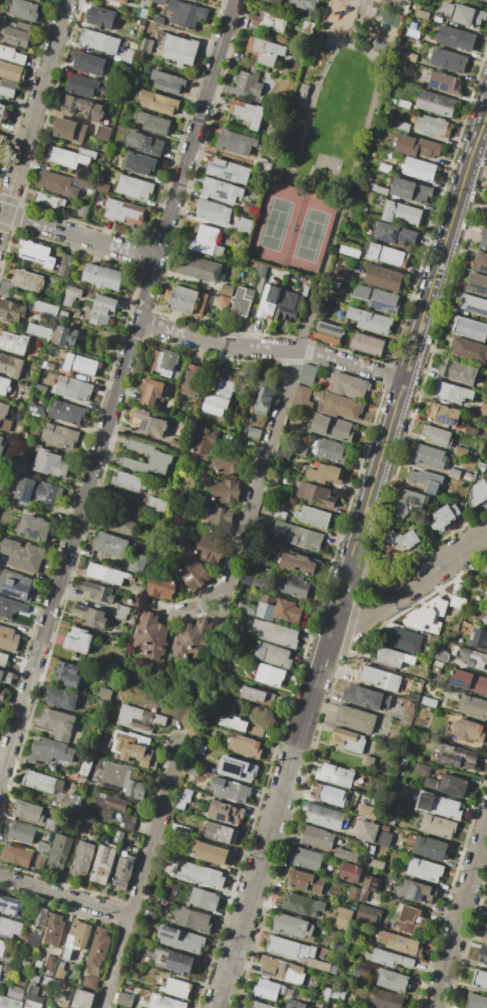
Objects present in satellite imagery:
building: (36, 0)
building: (209, 0)
building: (483, 0)
building: (121, 1)
building: (160, 1)
building: (273, 2)
building: (304, 4)
building: (23, 10)
building: (141, 12)
building: (186, 14)
building: (422, 14)
building: (464, 14)
building: (99, 17)
building: (158, 20)
building: (270, 21)
road: (359, 23)
building: (307, 27)
building: (16, 32)
building: (455, 38)
building: (100, 41)
road: (331, 41)
building: (145, 45)
building: (121, 48)
building: (180, 50)
building: (265, 51)
building: (129, 54)
building: (11, 55)
building: (448, 60)
building: (125, 61)
building: (88, 63)
building: (11, 71)
building: (423, 72)
building: (167, 82)
building: (247, 83)
building: (445, 83)
building: (82, 86)
building: (7, 87)
building: (303, 95)
building: (159, 103)
building: (436, 103)
building: (404, 104)
building: (81, 108)
road: (485, 111)
building: (247, 113)
building: (3, 114)
road: (34, 115)
building: (154, 124)
building: (399, 126)
building: (433, 126)
building: (69, 130)
building: (103, 133)
road: (477, 134)
road: (301, 135)
park: (326, 136)
building: (2, 138)
building: (236, 143)
building: (146, 144)
building: (418, 147)
building: (87, 153)
building: (64, 157)
building: (138, 162)
building: (106, 164)
rooftop solar panel: (218, 164)
building: (262, 164)
park: (327, 164)
building: (385, 168)
building: (418, 169)
building: (228, 171)
road: (351, 172)
rooftop solar panel: (228, 173)
building: (57, 185)
building: (102, 187)
building: (134, 187)
building: (377, 189)
building: (221, 190)
building: (410, 190)
rooftop solar panel: (222, 192)
building: (48, 201)
building: (250, 208)
building: (83, 210)
building: (363, 210)
building: (124, 212)
building: (213, 212)
building: (351, 213)
building: (400, 213)
building: (486, 222)
building: (233, 223)
park: (276, 223)
building: (244, 226)
park: (311, 234)
building: (395, 234)
road: (77, 236)
building: (483, 240)
building: (206, 241)
building: (34, 251)
building: (350, 251)
building: (387, 254)
building: (480, 262)
building: (49, 263)
building: (66, 264)
building: (197, 267)
rooftop solar panel: (486, 269)
building: (261, 270)
building: (340, 271)
building: (103, 277)
building: (384, 278)
building: (27, 280)
rooftop solar panel: (477, 283)
building: (259, 284)
building: (477, 284)
building: (4, 288)
building: (226, 290)
building: (71, 295)
building: (377, 299)
building: (187, 300)
building: (242, 301)
building: (268, 301)
building: (223, 302)
building: (289, 304)
building: (474, 304)
building: (46, 308)
building: (12, 310)
building: (103, 311)
building: (64, 313)
building: (78, 314)
road: (308, 318)
building: (370, 321)
road: (136, 323)
building: (470, 329)
building: (39, 331)
building: (328, 332)
building: (65, 336)
building: (14, 343)
building: (368, 344)
road: (270, 349)
building: (470, 350)
building: (62, 355)
building: (164, 362)
building: (80, 365)
building: (11, 366)
building: (47, 366)
building: (458, 371)
building: (307, 374)
building: (191, 379)
building: (348, 385)
building: (5, 386)
building: (41, 389)
building: (73, 389)
road: (398, 391)
building: (221, 392)
building: (154, 393)
building: (318, 393)
building: (453, 393)
building: (265, 397)
building: (302, 397)
building: (340, 406)
building: (212, 409)
building: (483, 409)
building: (36, 411)
building: (66, 412)
building: (261, 413)
building: (443, 414)
building: (4, 418)
rooftop solar panel: (446, 419)
building: (151, 423)
building: (337, 429)
building: (471, 431)
building: (254, 433)
building: (437, 435)
building: (59, 436)
building: (204, 442)
building: (1, 446)
building: (299, 450)
building: (331, 451)
building: (461, 452)
building: (283, 455)
building: (159, 457)
building: (429, 457)
building: (50, 464)
building: (228, 464)
building: (482, 467)
building: (324, 474)
building: (454, 474)
building: (467, 477)
building: (486, 477)
road: (260, 478)
building: (426, 480)
building: (127, 482)
building: (0, 485)
building: (24, 489)
rooftop solar panel: (26, 492)
building: (225, 492)
building: (311, 492)
building: (47, 493)
building: (478, 494)
building: (412, 503)
building: (156, 504)
building: (461, 504)
building: (266, 510)
building: (280, 515)
building: (313, 517)
building: (444, 517)
building: (220, 521)
building: (118, 525)
building: (33, 528)
rooftop solar panel: (23, 534)
rooftop solar panel: (36, 535)
building: (298, 535)
building: (402, 540)
building: (110, 545)
building: (277, 547)
building: (211, 550)
building: (22, 556)
road: (447, 559)
building: (137, 563)
building: (297, 564)
building: (264, 568)
building: (485, 569)
building: (193, 574)
building: (108, 575)
road: (375, 580)
building: (246, 581)
building: (259, 584)
building: (15, 585)
building: (295, 586)
building: (160, 587)
building: (455, 588)
building: (135, 590)
building: (96, 592)
building: (456, 602)
building: (10, 607)
road: (193, 607)
building: (245, 609)
building: (266, 611)
building: (287, 611)
building: (121, 613)
building: (425, 615)
building: (91, 616)
road: (373, 616)
building: (480, 616)
building: (236, 629)
building: (275, 633)
building: (151, 636)
building: (479, 638)
building: (8, 639)
building: (192, 639)
building: (78, 640)
building: (402, 640)
building: (273, 655)
building: (442, 655)
building: (392, 657)
building: (3, 659)
building: (76, 659)
building: (469, 659)
building: (163, 668)
building: (436, 668)
building: (67, 674)
building: (269, 675)
building: (5, 677)
building: (380, 678)
building: (433, 680)
building: (469, 681)
building: (2, 694)
building: (103, 694)
building: (258, 696)
building: (413, 696)
building: (61, 698)
building: (366, 698)
building: (429, 701)
building: (410, 705)
building: (103, 706)
building: (473, 707)
road: (19, 709)
building: (80, 714)
building: (139, 719)
building: (356, 719)
building: (58, 723)
building: (233, 723)
building: (415, 724)
building: (400, 726)
building: (258, 731)
building: (468, 731)
building: (347, 741)
building: (245, 746)
building: (200, 748)
building: (133, 749)
building: (45, 750)
building: (64, 753)
building: (456, 757)
building: (194, 760)
building: (367, 760)
building: (404, 761)
building: (239, 769)
building: (422, 769)
building: (82, 770)
building: (193, 771)
building: (100, 773)
building: (335, 775)
building: (124, 779)
building: (43, 783)
building: (431, 784)
building: (102, 785)
building: (453, 786)
building: (109, 787)
building: (229, 790)
building: (329, 795)
building: (184, 798)
building: (70, 802)
building: (116, 804)
building: (440, 806)
building: (28, 811)
building: (226, 813)
building: (365, 813)
building: (324, 817)
road: (272, 820)
building: (389, 820)
building: (23, 821)
building: (127, 822)
building: (50, 825)
building: (438, 826)
building: (82, 827)
building: (385, 827)
building: (180, 829)
building: (367, 831)
building: (21, 833)
building: (220, 833)
building: (118, 836)
building: (318, 838)
building: (384, 839)
building: (426, 846)
building: (43, 848)
building: (369, 849)
building: (59, 853)
building: (210, 853)
rooftop solar panel: (105, 854)
rooftop solar panel: (433, 854)
building: (345, 855)
building: (16, 856)
building: (82, 858)
building: (420, 858)
building: (306, 859)
building: (39, 861)
building: (102, 864)
rooftop solar panel: (129, 864)
building: (376, 865)
building: (124, 868)
building: (424, 870)
building: (350, 873)
road: (141, 875)
building: (202, 875)
building: (305, 882)
rooftop solar panel: (118, 883)
building: (370, 884)
building: (414, 891)
rooftop solar panel: (412, 892)
building: (354, 894)
rooftop solar panel: (419, 894)
building: (363, 896)
road: (64, 897)
building: (204, 898)
building: (302, 905)
building: (10, 906)
building: (147, 913)
building: (367, 914)
road: (459, 916)
building: (41, 917)
building: (394, 918)
building: (409, 919)
building: (193, 920)
building: (343, 920)
building: (293, 926)
building: (486, 926)
building: (8, 927)
rooftop solar panel: (170, 928)
building: (53, 930)
rooftop solar panel: (169, 935)
building: (486, 936)
building: (76, 938)
building: (31, 940)
building: (181, 940)
building: (401, 943)
building: (100, 947)
building: (287, 948)
building: (339, 948)
building: (2, 950)
building: (311, 951)
building: (324, 952)
building: (483, 955)
building: (389, 959)
building: (173, 961)
building: (24, 964)
building: (49, 964)
building: (63, 964)
building: (318, 965)
rooftop solar panel: (177, 966)
building: (281, 970)
building: (334, 970)
building: (60, 972)
building: (360, 972)
building: (48, 973)
building: (480, 979)
building: (393, 981)
building: (90, 982)
building: (127, 982)
building: (43, 985)
building: (155, 987)
building: (177, 988)
building: (267, 990)
building: (286, 990)
building: (12, 992)
building: (326, 992)
building: (29, 994)
building: (338, 996)
building: (82, 999)
building: (125, 999)
building: (325, 1000)
building: (387, 1000)
building: (476, 1001)
building: (7, 1003)
building: (165, 1003)
building: (291, 1004)
building: (139, 1005)
building: (260, 1005)
building: (301, 1005)
building: (46, 1007)
building: (306, 1007)

